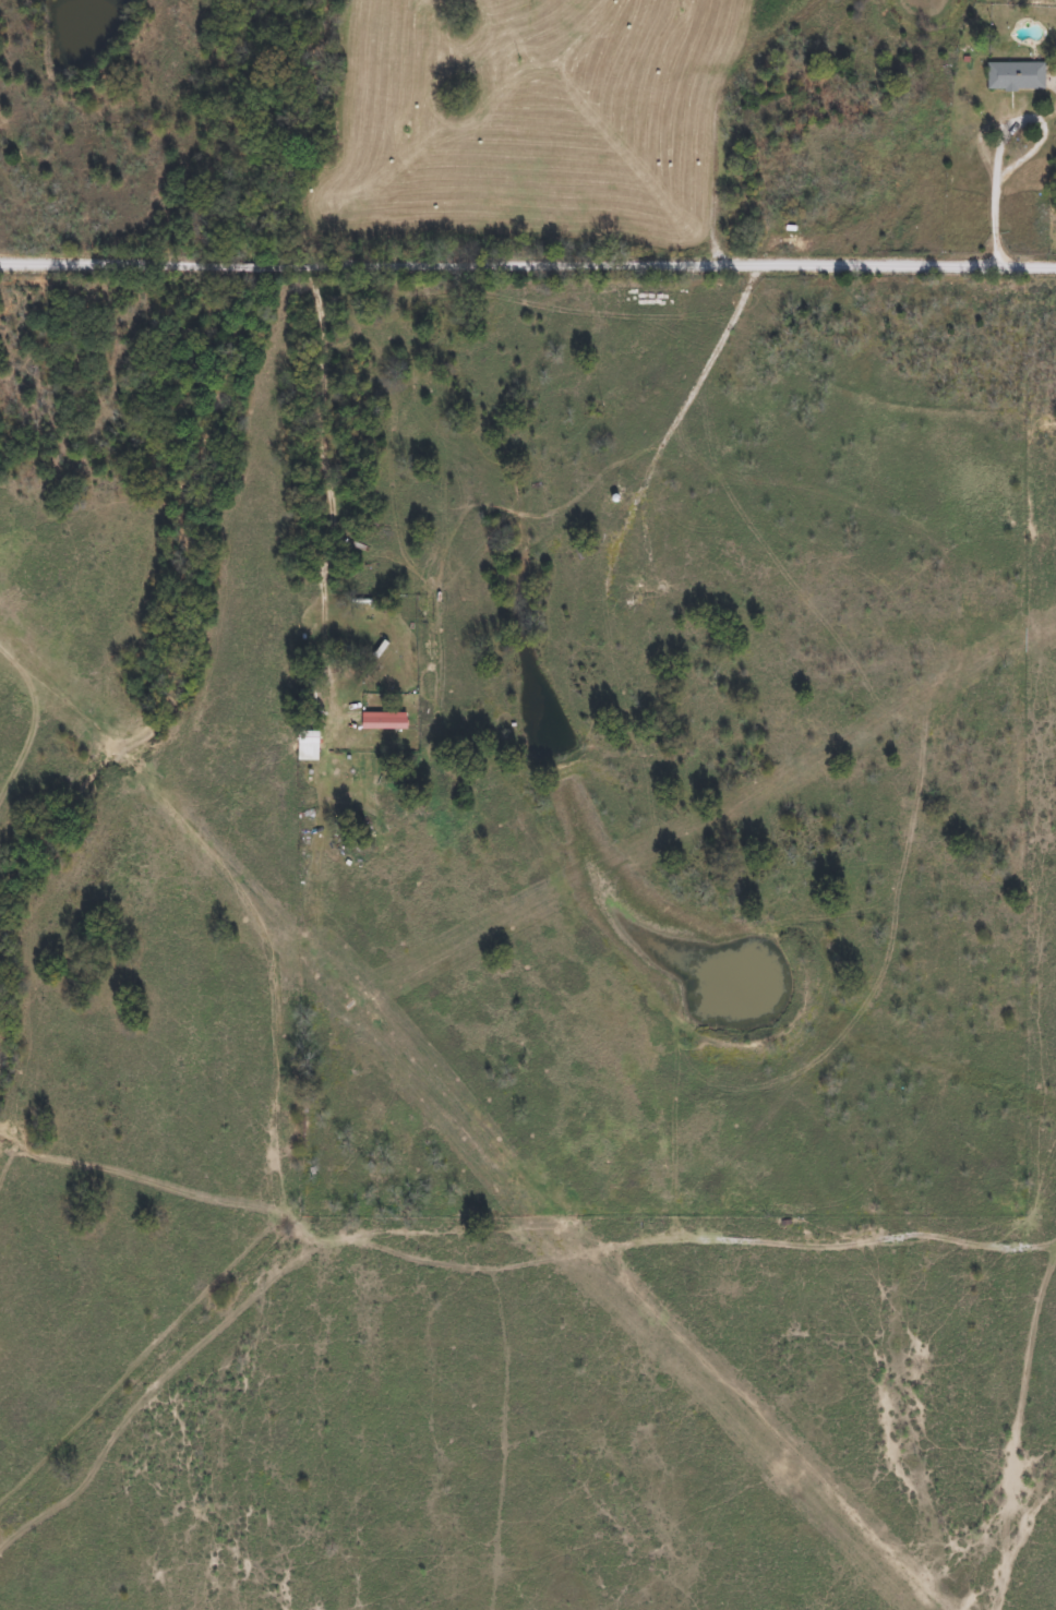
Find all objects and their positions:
building: (1013, 75)
road: (995, 165)
road: (528, 260)
road: (323, 396)
road: (650, 1205)

